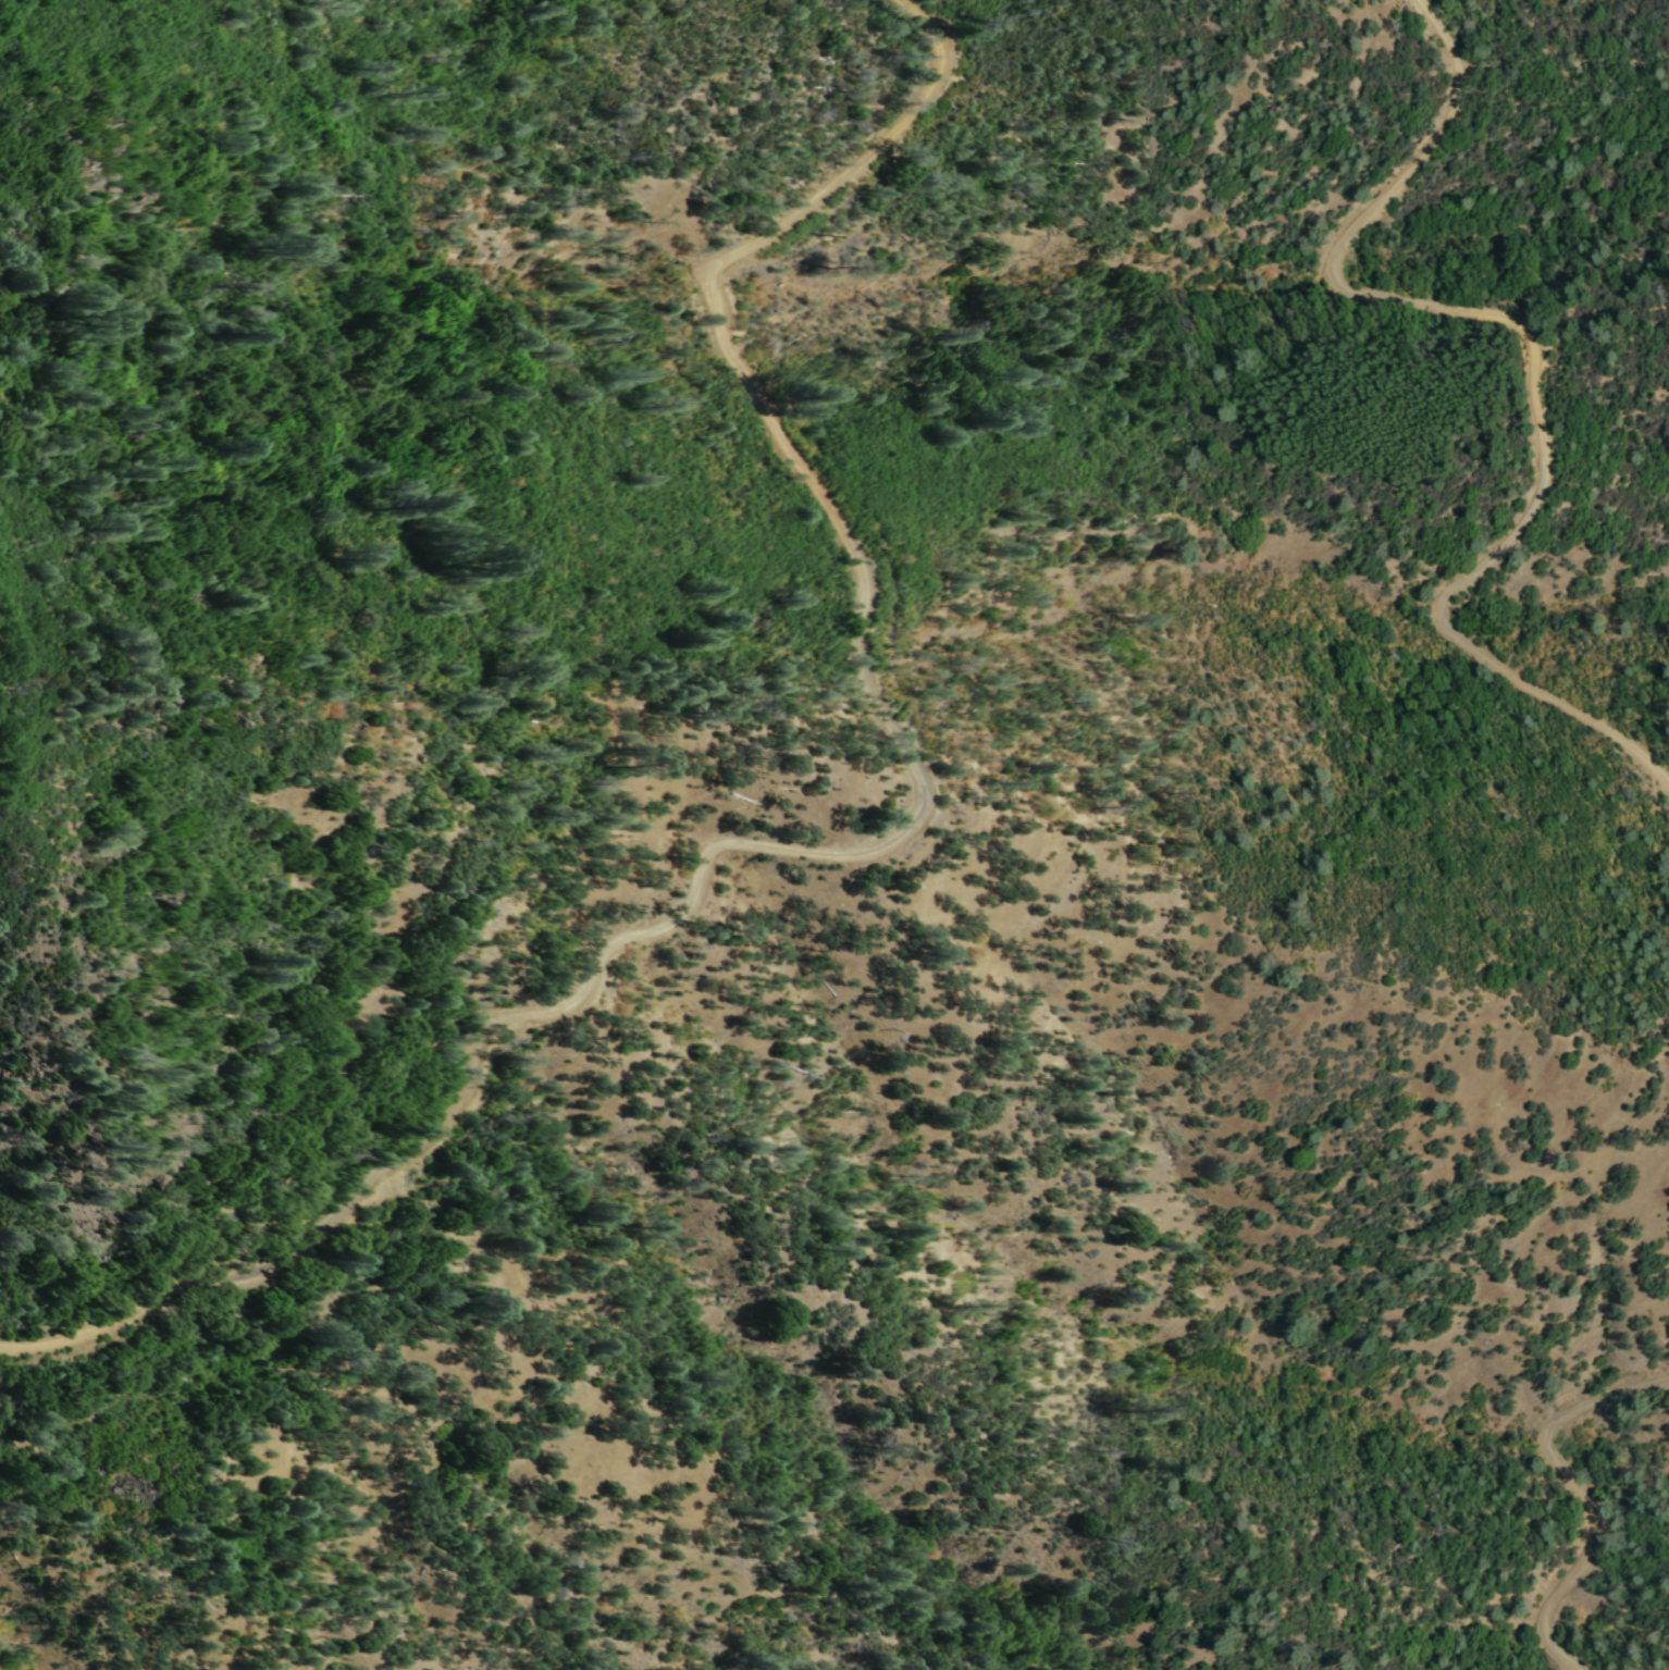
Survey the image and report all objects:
road: (1558, 318)
road: (1523, 375)
road: (836, 846)
road: (1577, 1496)

